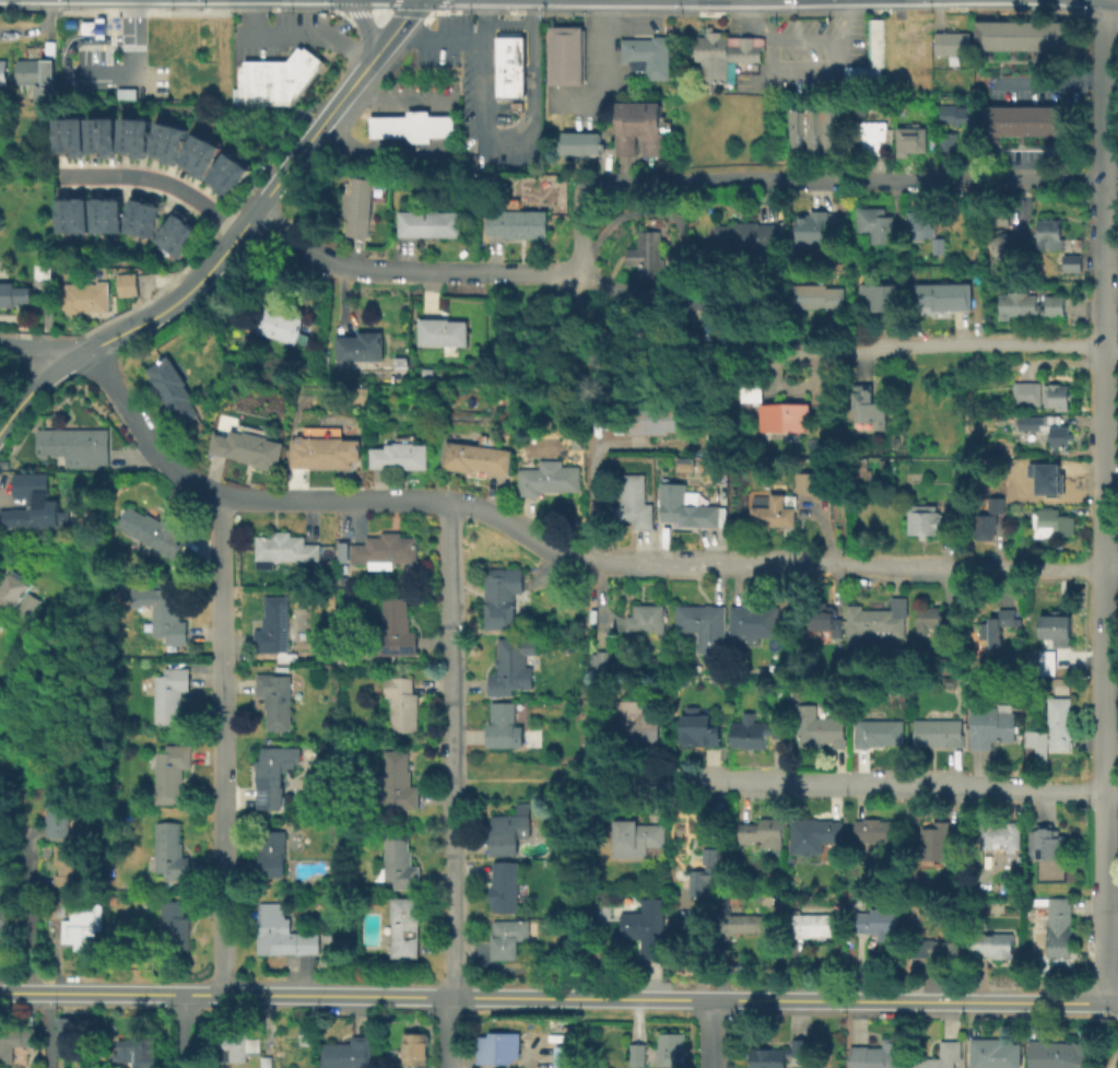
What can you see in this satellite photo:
road: (439, 4)
road: (390, 5)
road: (118, 9)
road: (1054, 9)
road: (251, 10)
road: (319, 10)
road: (454, 10)
road: (378, 11)
road: (429, 11)
road: (483, 11)
road: (507, 11)
road: (849, 11)
road: (875, 11)
road: (98, 12)
road: (408, 12)
road: (554, 12)
road: (602, 12)
road: (671, 12)
road: (745, 12)
road: (800, 12)
road: (355, 13)
road: (1078, 13)
road: (1101, 13)
street lamp: (510, 15)
road: (109, 17)
road: (82, 19)
road: (424, 19)
road: (842, 20)
road: (753, 21)
building: (68, 23)
road: (75, 23)
road: (508, 23)
road: (362, 25)
building: (93, 27)
road: (78, 31)
parking lot: (286, 33)
road: (298, 34)
road: (495, 34)
road: (131, 35)
building: (1016, 35)
road: (98, 37)
road: (109, 37)
road: (804, 37)
building: (909, 37)
road: (117, 38)
road: (433, 38)
road: (471, 39)
road: (522, 40)
building: (951, 43)
road: (109, 45)
road: (98, 46)
road: (131, 46)
road: (105, 47)
road: (267, 48)
street lamp: (118, 50)
road: (768, 52)
building: (564, 54)
building: (722, 54)
building: (646, 55)
parking lot: (94, 56)
road: (105, 56)
road: (368, 59)
building: (867, 60)
road: (271, 62)
building: (507, 63)
road: (533, 63)
road: (482, 64)
road: (796, 64)
road: (102, 70)
building: (3, 72)
building: (293, 74)
street lamp: (456, 74)
building: (35, 75)
road: (476, 75)
road: (603, 78)
road: (1041, 81)
road: (69, 82)
parking lot: (151, 82)
building: (256, 82)
street lamp: (75, 89)
road: (364, 89)
parking lot: (472, 91)
building: (234, 95)
road: (409, 97)
road: (496, 99)
road: (449, 104)
road: (375, 106)
road: (388, 106)
road: (398, 106)
road: (436, 106)
building: (860, 109)
road: (493, 112)
building: (955, 114)
building: (1020, 120)
road: (375, 126)
road: (388, 126)
road: (398, 126)
building: (411, 126)
road: (435, 126)
road: (449, 126)
building: (813, 126)
building: (829, 126)
building: (797, 127)
building: (624, 128)
building: (648, 128)
building: (93, 133)
building: (126, 133)
building: (61, 134)
building: (108, 136)
building: (868, 136)
building: (77, 137)
road: (485, 137)
building: (141, 138)
building: (161, 139)
building: (907, 139)
building: (945, 141)
building: (575, 142)
road: (375, 143)
road: (387, 143)
road: (398, 143)
road: (516, 143)
building: (174, 144)
road: (435, 144)
building: (193, 150)
road: (386, 151)
street lamp: (461, 151)
road: (1111, 156)
building: (204, 160)
building: (222, 168)
building: (232, 179)
road: (156, 181)
road: (846, 181)
building: (355, 206)
building: (62, 214)
building: (78, 214)
building: (996, 214)
building: (96, 215)
building: (110, 215)
building: (132, 215)
building: (148, 220)
building: (428, 223)
building: (515, 223)
building: (872, 224)
building: (810, 226)
building: (169, 227)
road: (582, 230)
building: (921, 232)
building: (1047, 233)
building: (745, 235)
building: (180, 240)
road: (675, 243)
building: (1003, 245)
road: (216, 256)
building: (645, 257)
building: (1069, 262)
building: (42, 271)
road: (408, 271)
building: (126, 284)
building: (13, 294)
building: (941, 295)
building: (816, 296)
building: (876, 296)
building: (81, 297)
building: (707, 297)
building: (1026, 305)
building: (279, 325)
building: (440, 331)
road: (37, 347)
building: (357, 347)
road: (811, 347)
road: (1111, 351)
building: (1020, 363)
building: (427, 372)
road: (34, 384)
building: (169, 388)
building: (1039, 395)
building: (867, 406)
building: (980, 407)
building: (775, 410)
building: (659, 420)
building: (1044, 427)
building: (579, 442)
building: (75, 446)
building: (251, 448)
building: (329, 453)
building: (404, 456)
building: (480, 458)
building: (860, 471)
building: (1048, 477)
building: (551, 478)
building: (807, 481)
road: (599, 495)
road: (1105, 500)
building: (635, 502)
building: (37, 503)
building: (997, 505)
building: (686, 506)
building: (772, 512)
building: (930, 519)
building: (1049, 521)
building: (984, 523)
building: (152, 531)
building: (287, 549)
building: (388, 549)
road: (553, 553)
road: (1111, 568)
building: (21, 592)
building: (503, 596)
building: (169, 617)
building: (643, 619)
building: (929, 619)
building: (826, 621)
building: (753, 624)
building: (704, 625)
building: (881, 625)
building: (276, 626)
building: (1055, 627)
building: (1001, 629)
building: (395, 632)
building: (604, 660)
building: (894, 661)
building: (1047, 661)
building: (948, 664)
building: (775, 667)
building: (509, 670)
building: (951, 681)
building: (896, 689)
building: (170, 694)
building: (275, 700)
building: (401, 703)
building: (795, 705)
building: (637, 721)
building: (502, 725)
building: (992, 726)
building: (821, 727)
building: (701, 729)
building: (1051, 729)
building: (756, 731)
building: (879, 732)
building: (939, 732)
road: (225, 743)
building: (170, 772)
building: (272, 774)
building: (400, 781)
road: (550, 783)
road: (880, 784)
road: (457, 786)
building: (59, 813)
building: (876, 830)
building: (509, 831)
building: (762, 832)
building: (814, 834)
building: (935, 835)
building: (955, 835)
building: (1000, 835)
building: (637, 840)
building: (1045, 843)
building: (170, 852)
building: (272, 854)
building: (398, 861)
building: (64, 865)
building: (113, 870)
building: (1019, 870)
building: (706, 871)
building: (506, 887)
building: (58, 906)
road: (28, 911)
building: (5, 916)
building: (876, 920)
building: (1051, 922)
building: (745, 925)
building: (84, 926)
building: (646, 926)
building: (814, 926)
building: (405, 927)
building: (175, 928)
building: (283, 932)
building: (328, 937)
building: (509, 938)
building: (991, 943)
building: (937, 949)
road: (558, 997)
road: (44, 1029)
road: (184, 1030)
road: (707, 1033)
building: (67, 1035)
building: (14, 1041)
building: (236, 1046)
building: (497, 1048)
building: (671, 1048)
building: (415, 1049)
building: (140, 1052)
building: (348, 1053)
building: (995, 1053)
building: (637, 1054)
building: (778, 1054)
building: (1058, 1054)
building: (879, 1055)
building: (941, 1056)
building: (567, 1058)
building: (273, 1063)
road: (1115, 1063)

